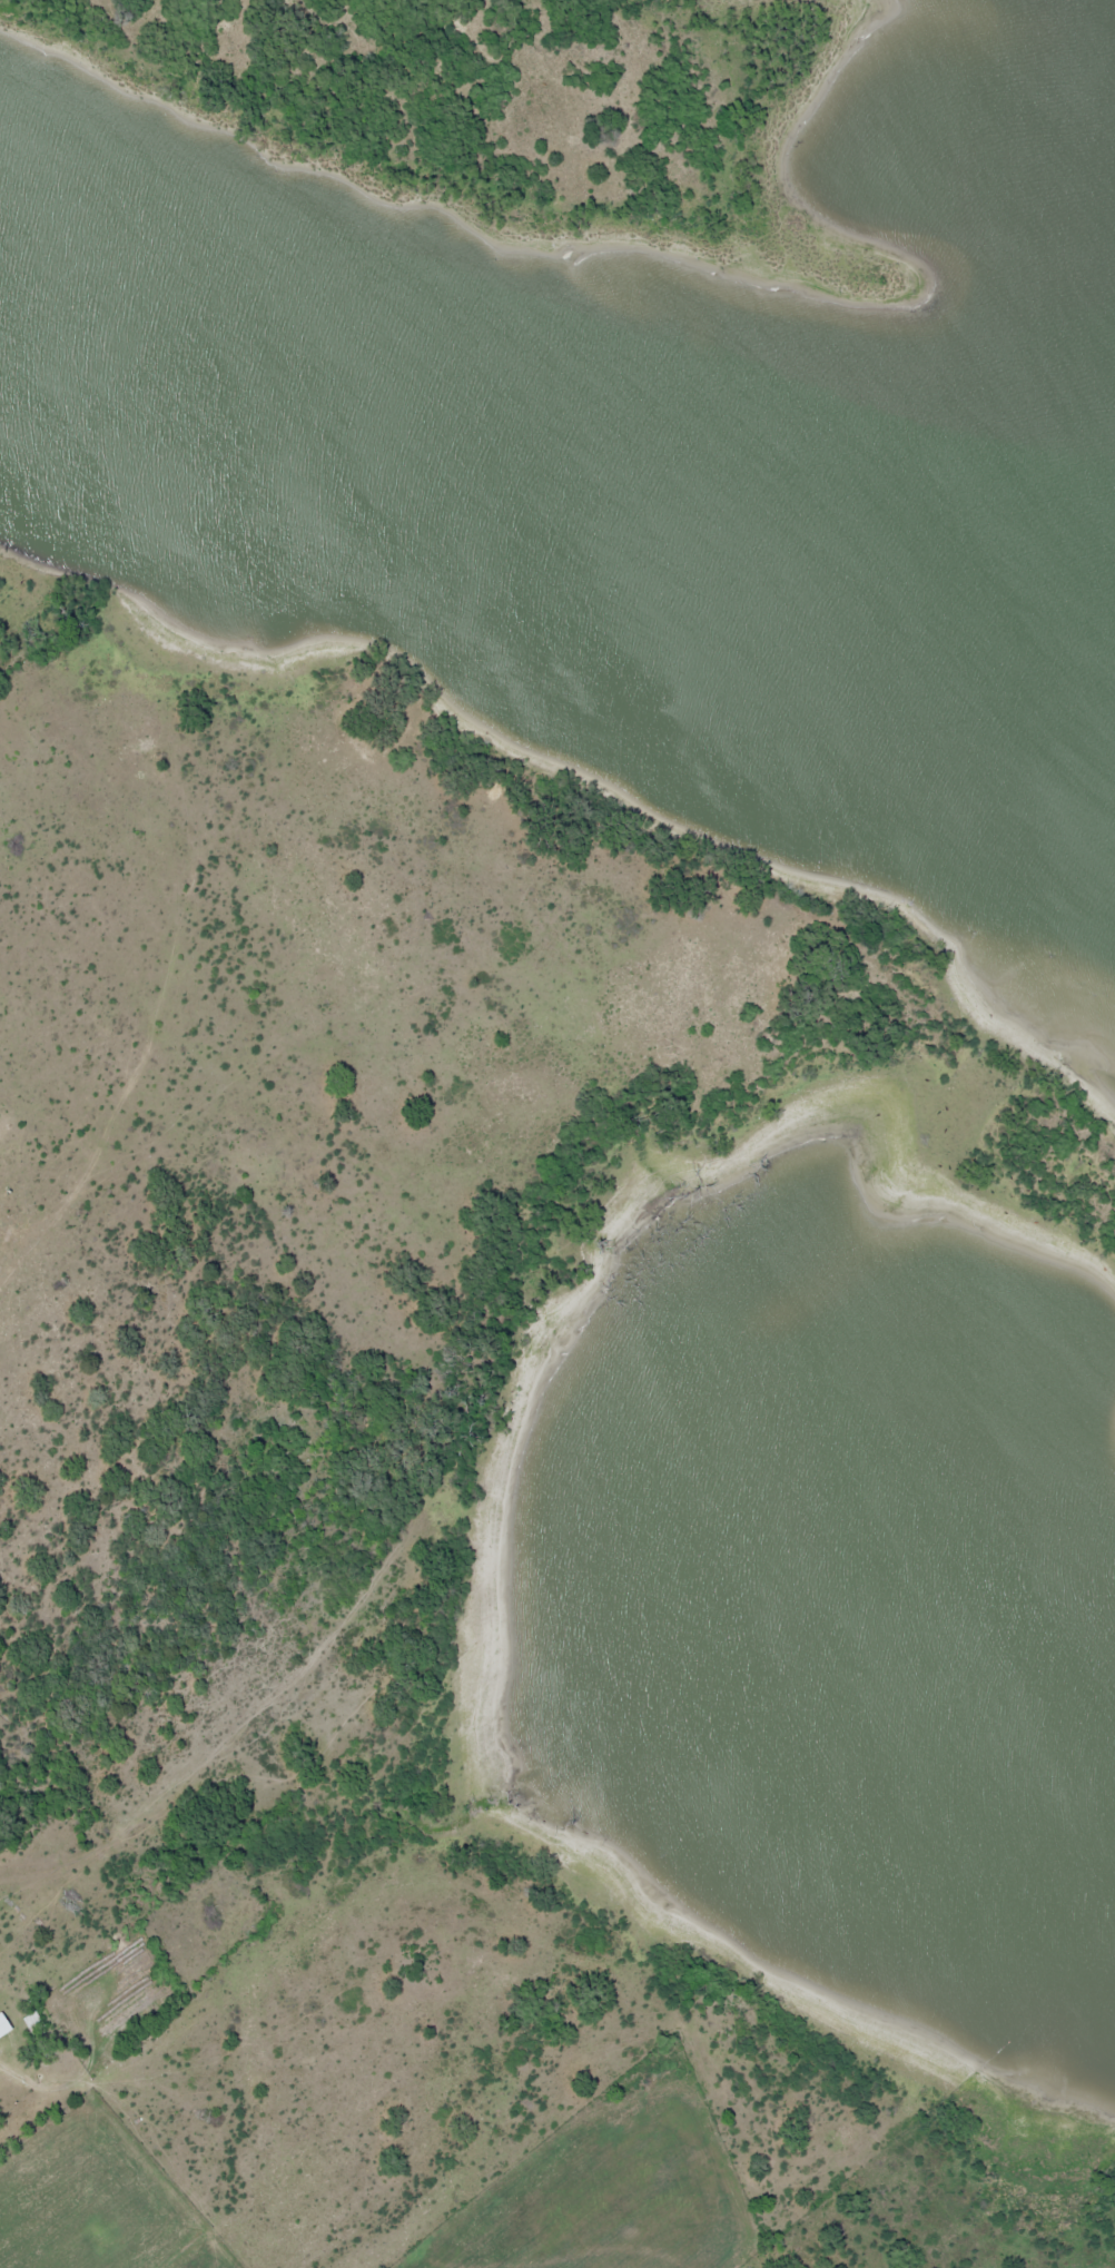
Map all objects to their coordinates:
river: (572, 471)
building: (31, 2021)
building: (2, 2025)

